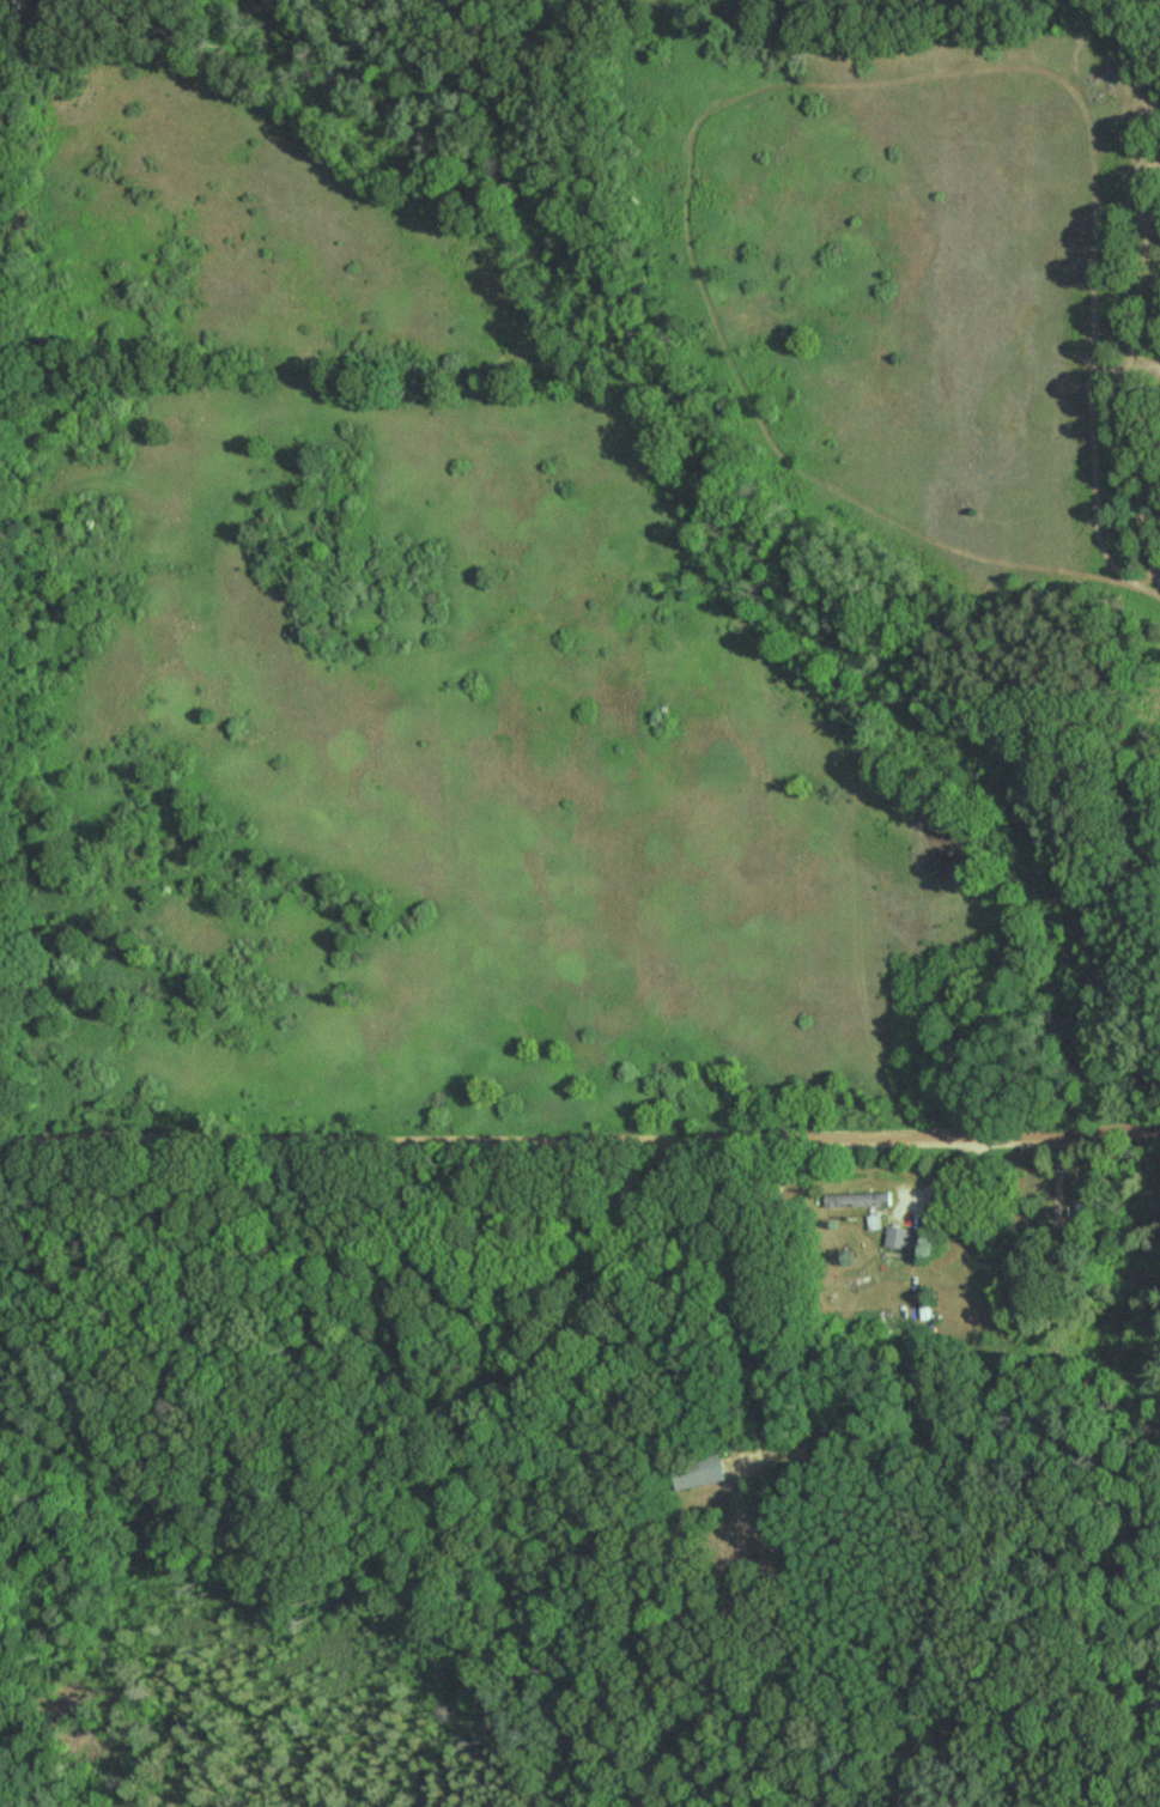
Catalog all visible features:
road: (771, 84)
road: (1144, 590)
road: (579, 1134)
building: (861, 1203)
building: (1083, 1206)
building: (900, 1241)
building: (699, 1474)

